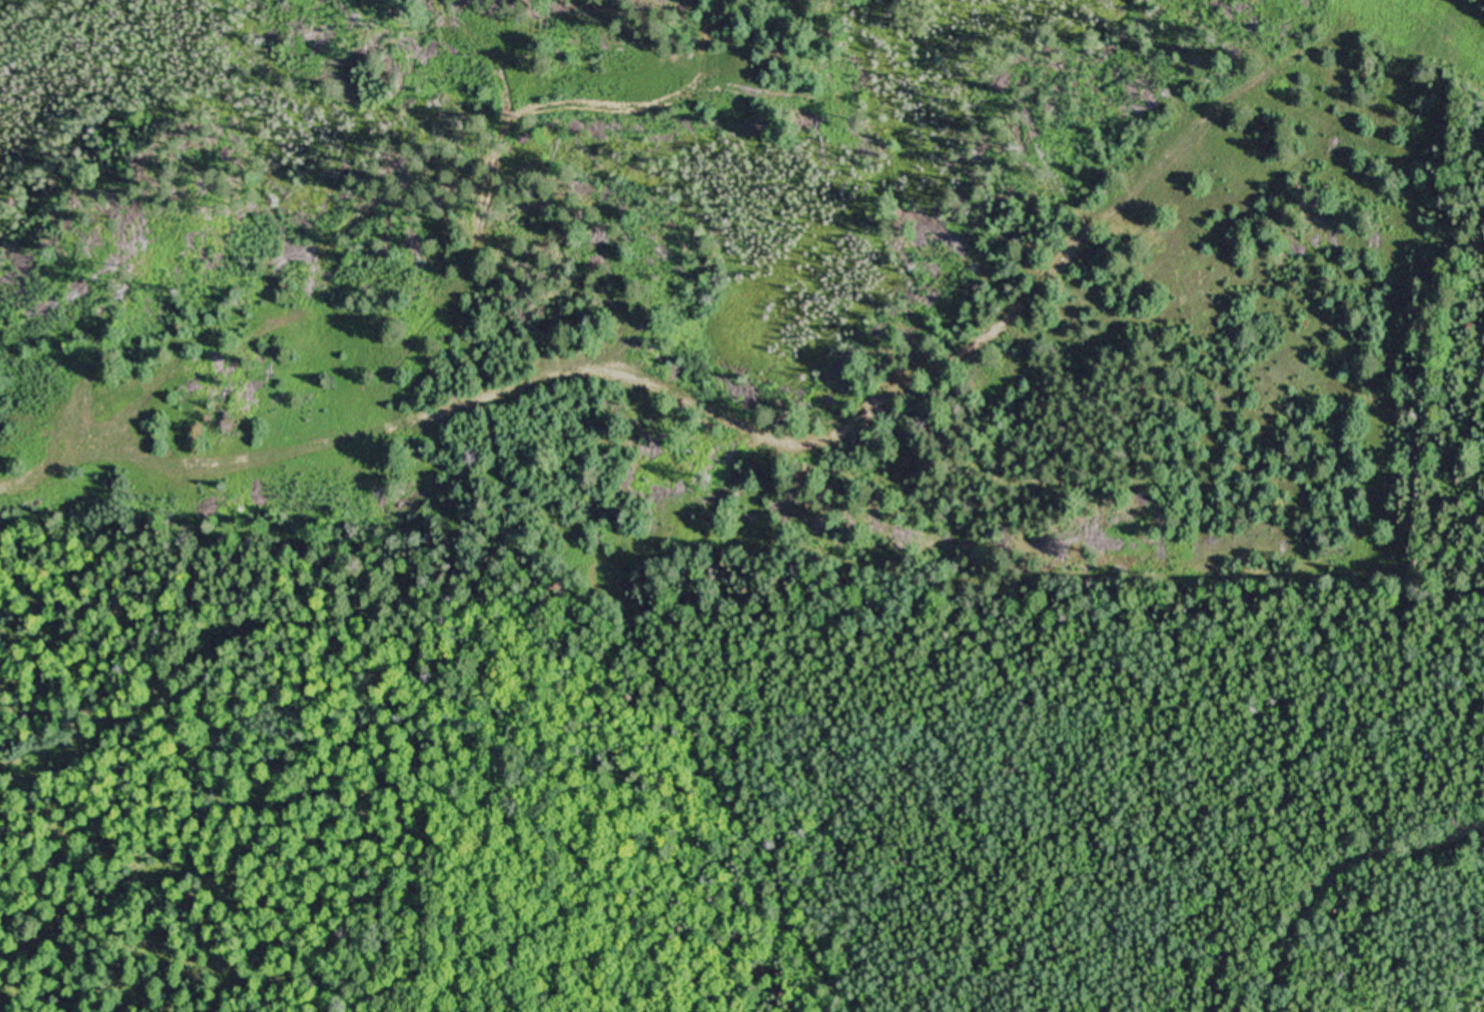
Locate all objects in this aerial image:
road: (1341, 875)

